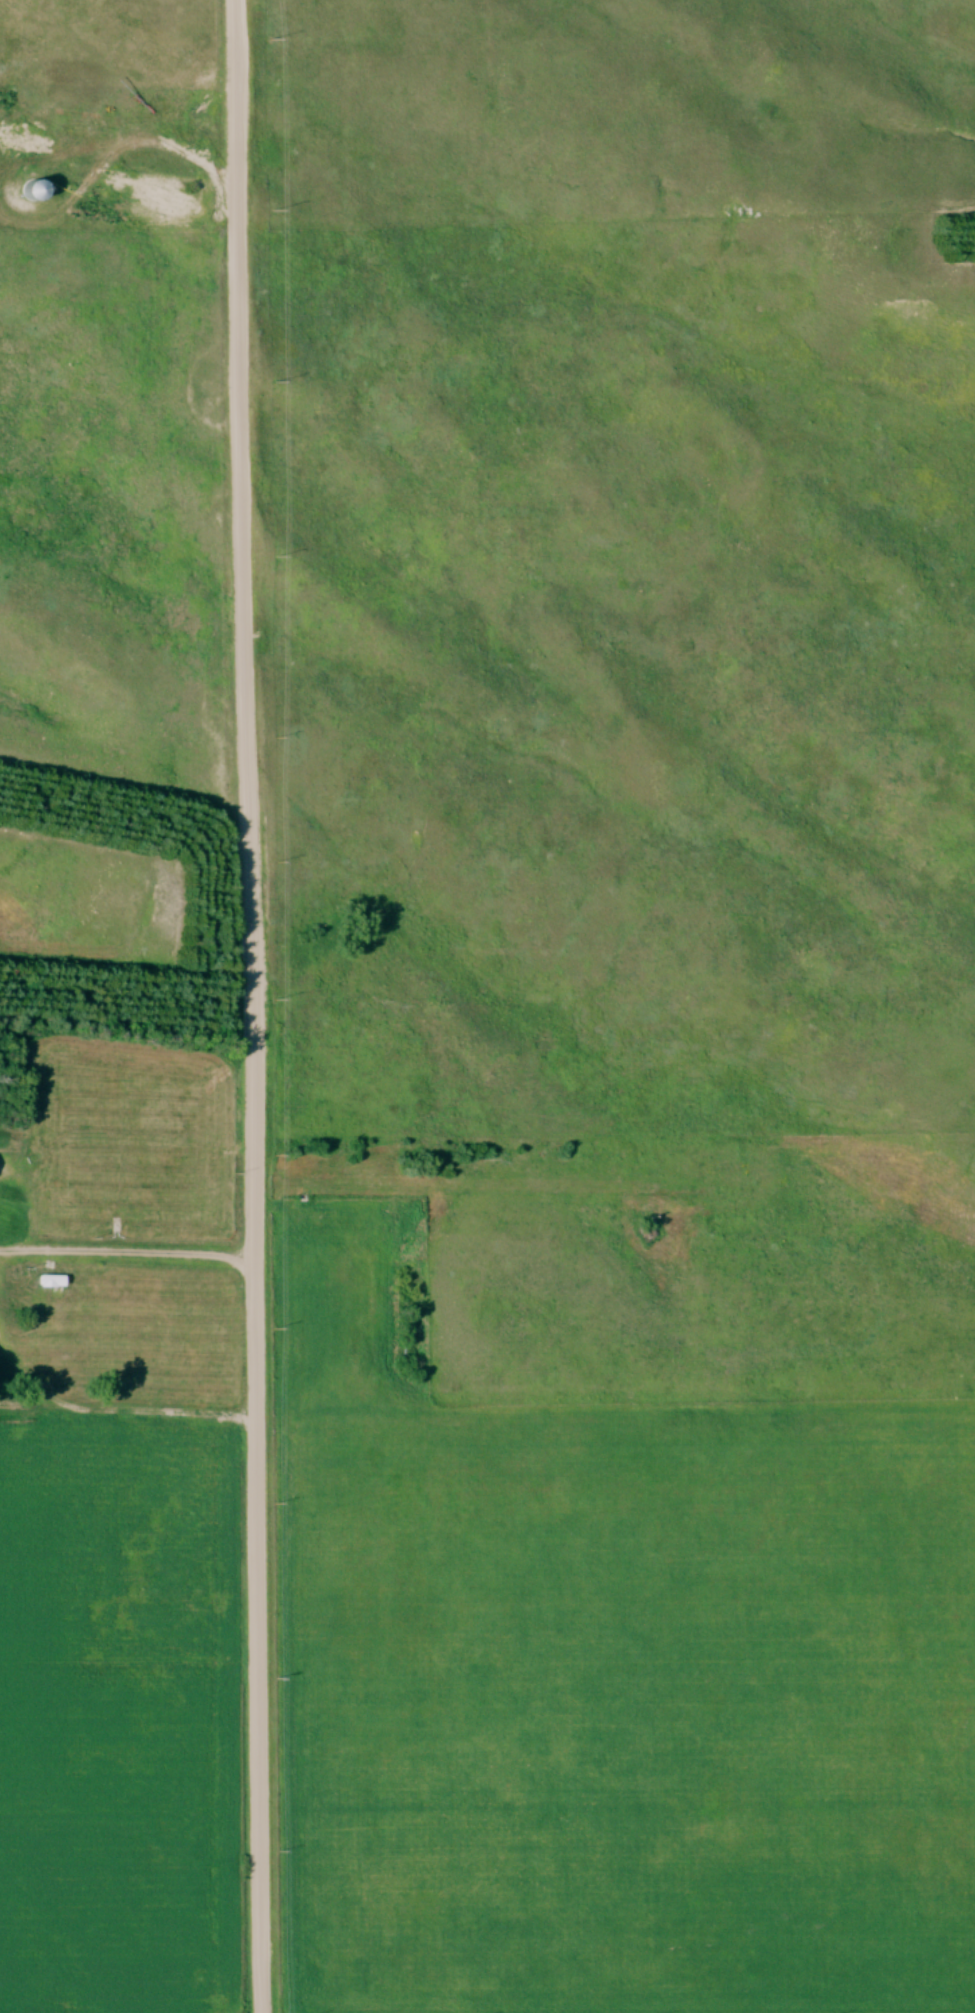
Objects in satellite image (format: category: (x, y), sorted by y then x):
road: (257, 1006)
road: (130, 1252)
building: (49, 1298)
road: (114, 1413)

